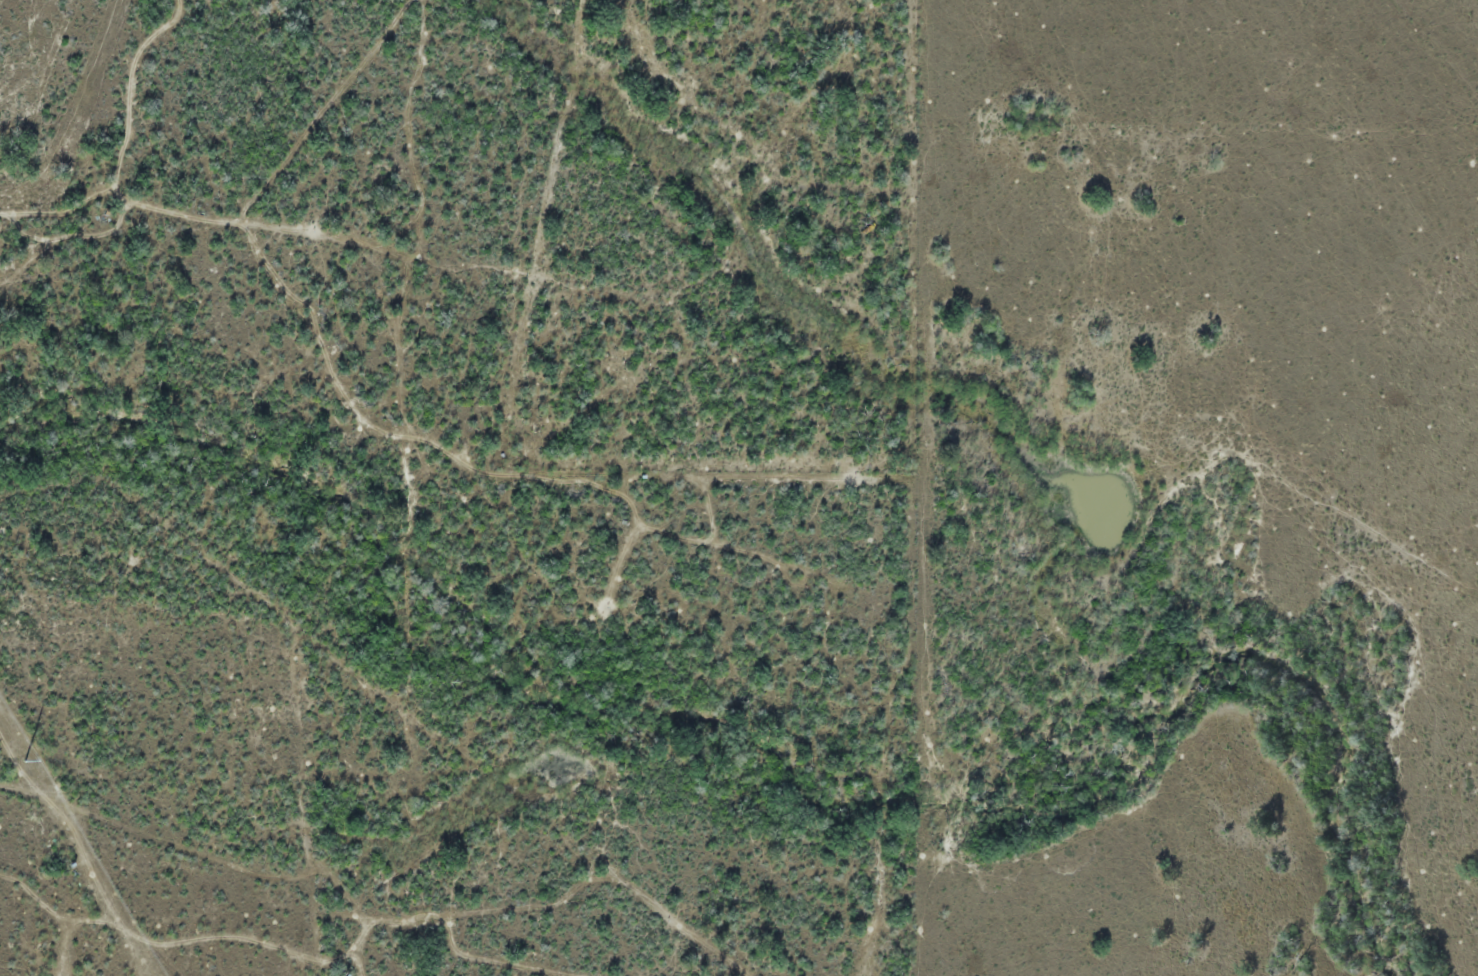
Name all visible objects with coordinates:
power tower: (25, 762)

